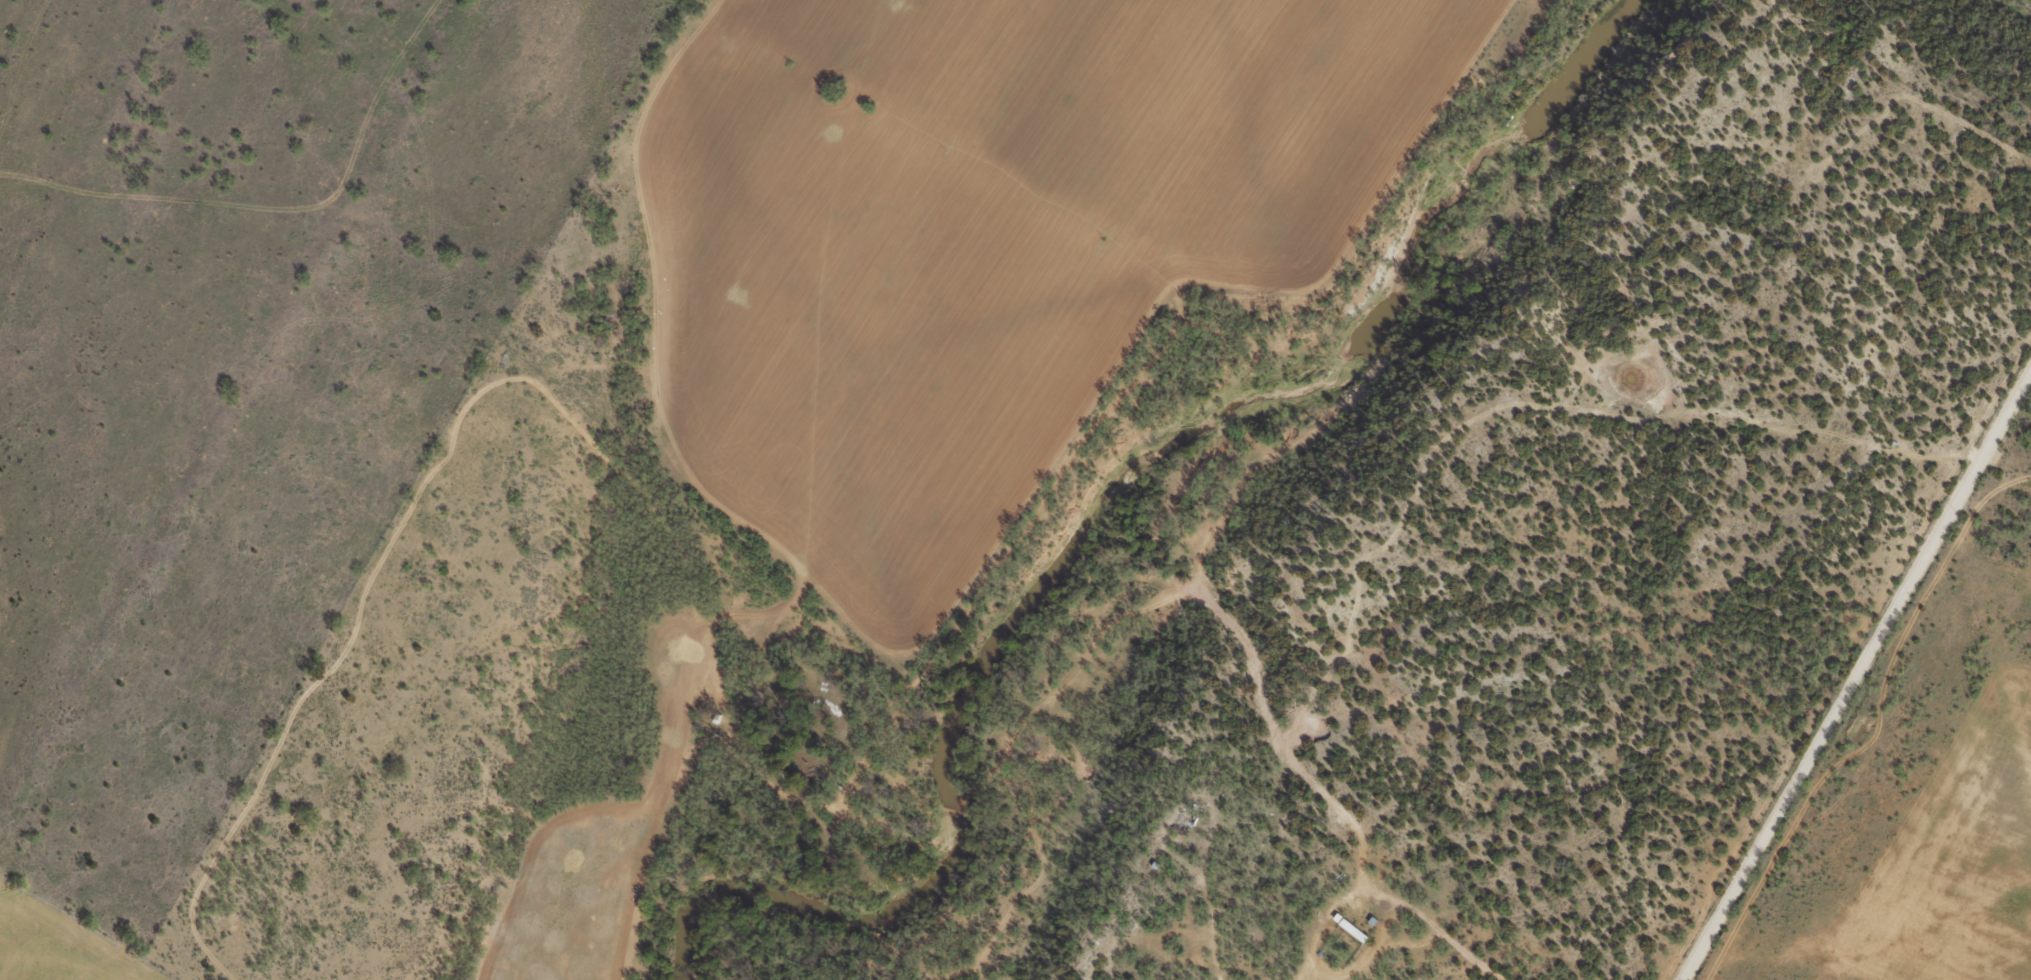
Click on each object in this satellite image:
road: (1865, 706)

